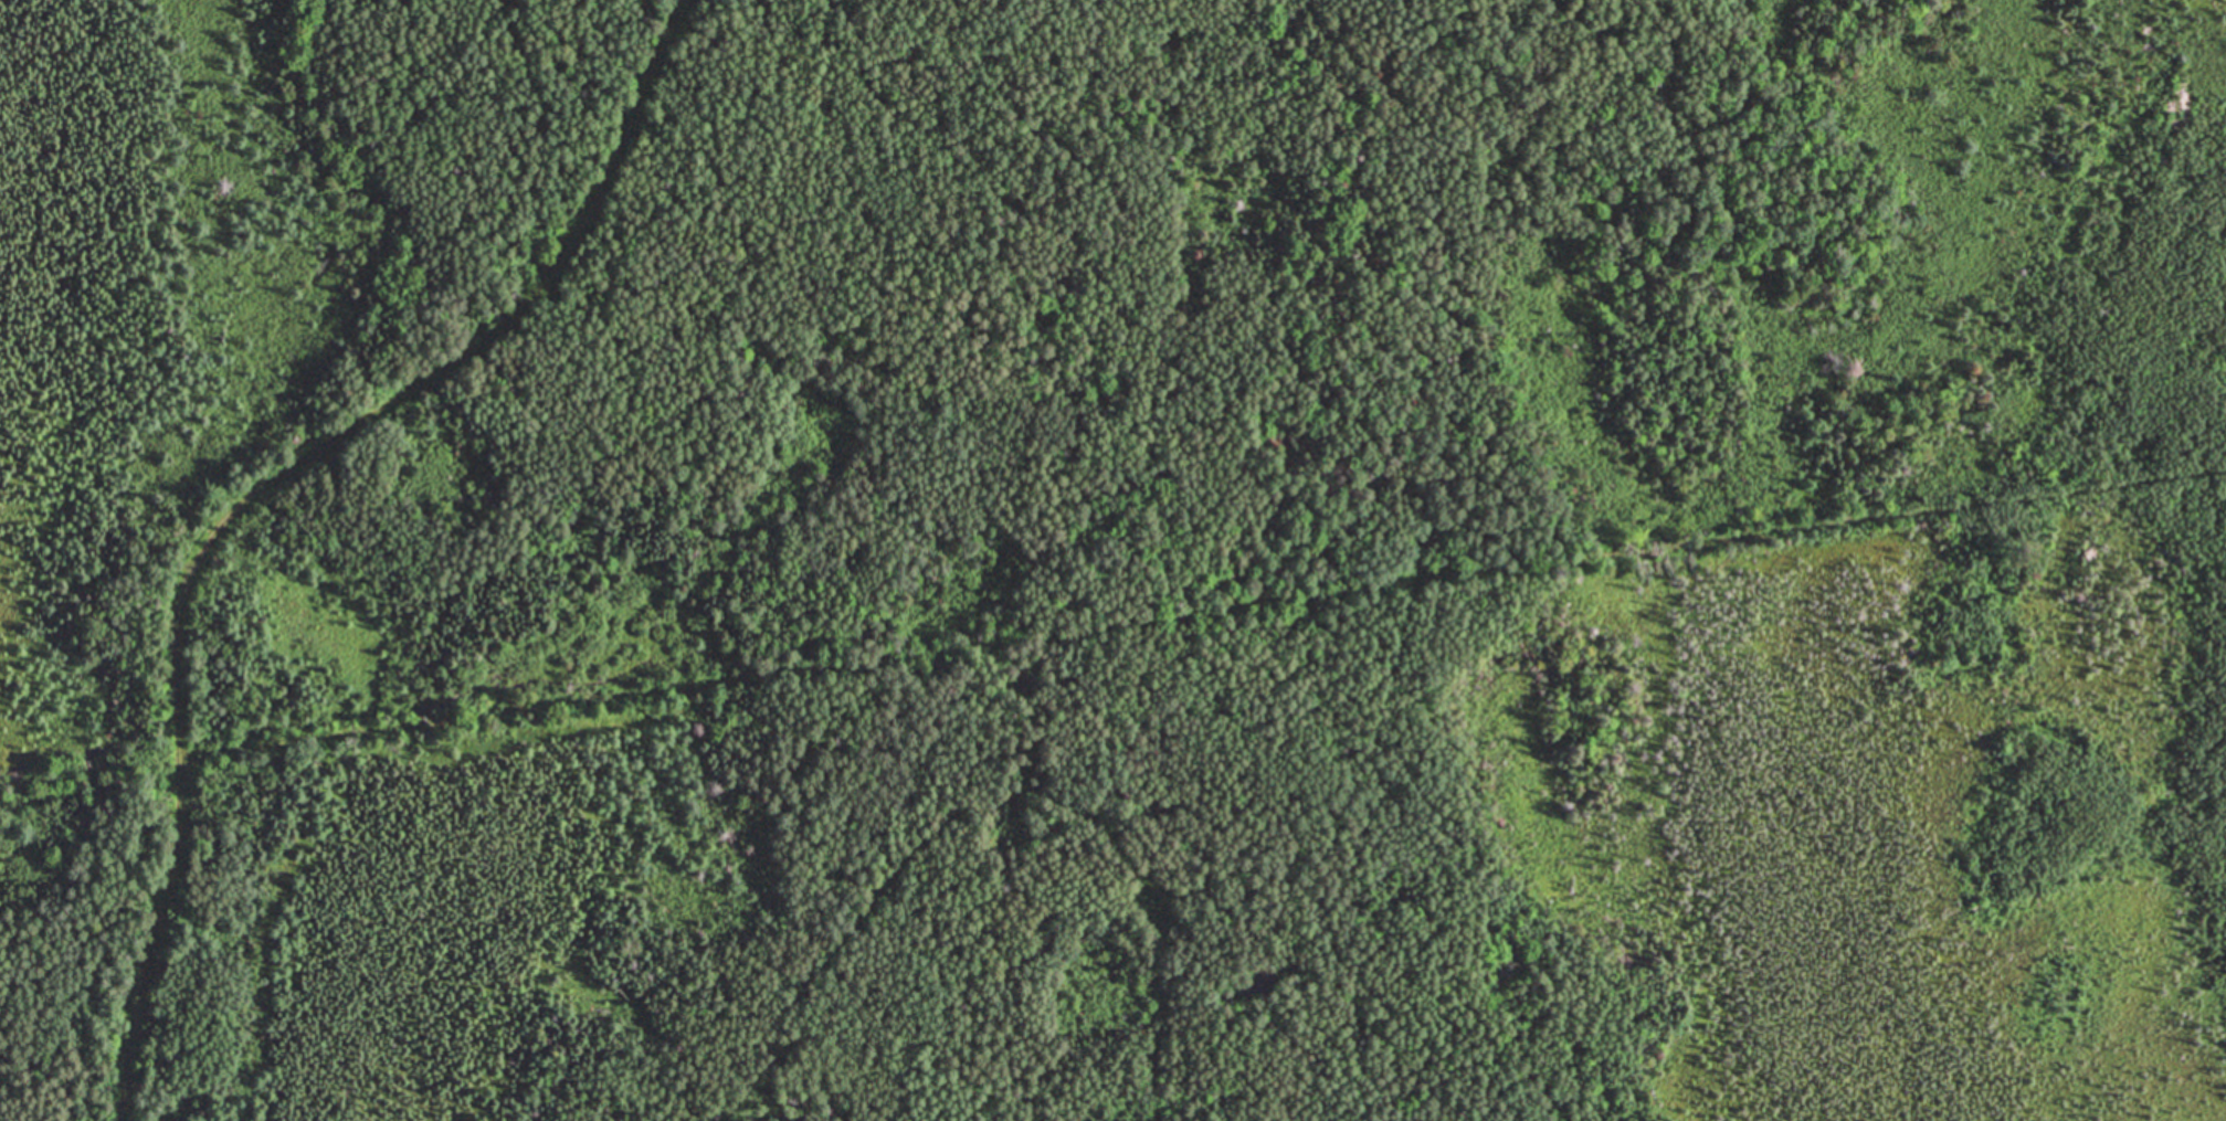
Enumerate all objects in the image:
road: (262, 488)

